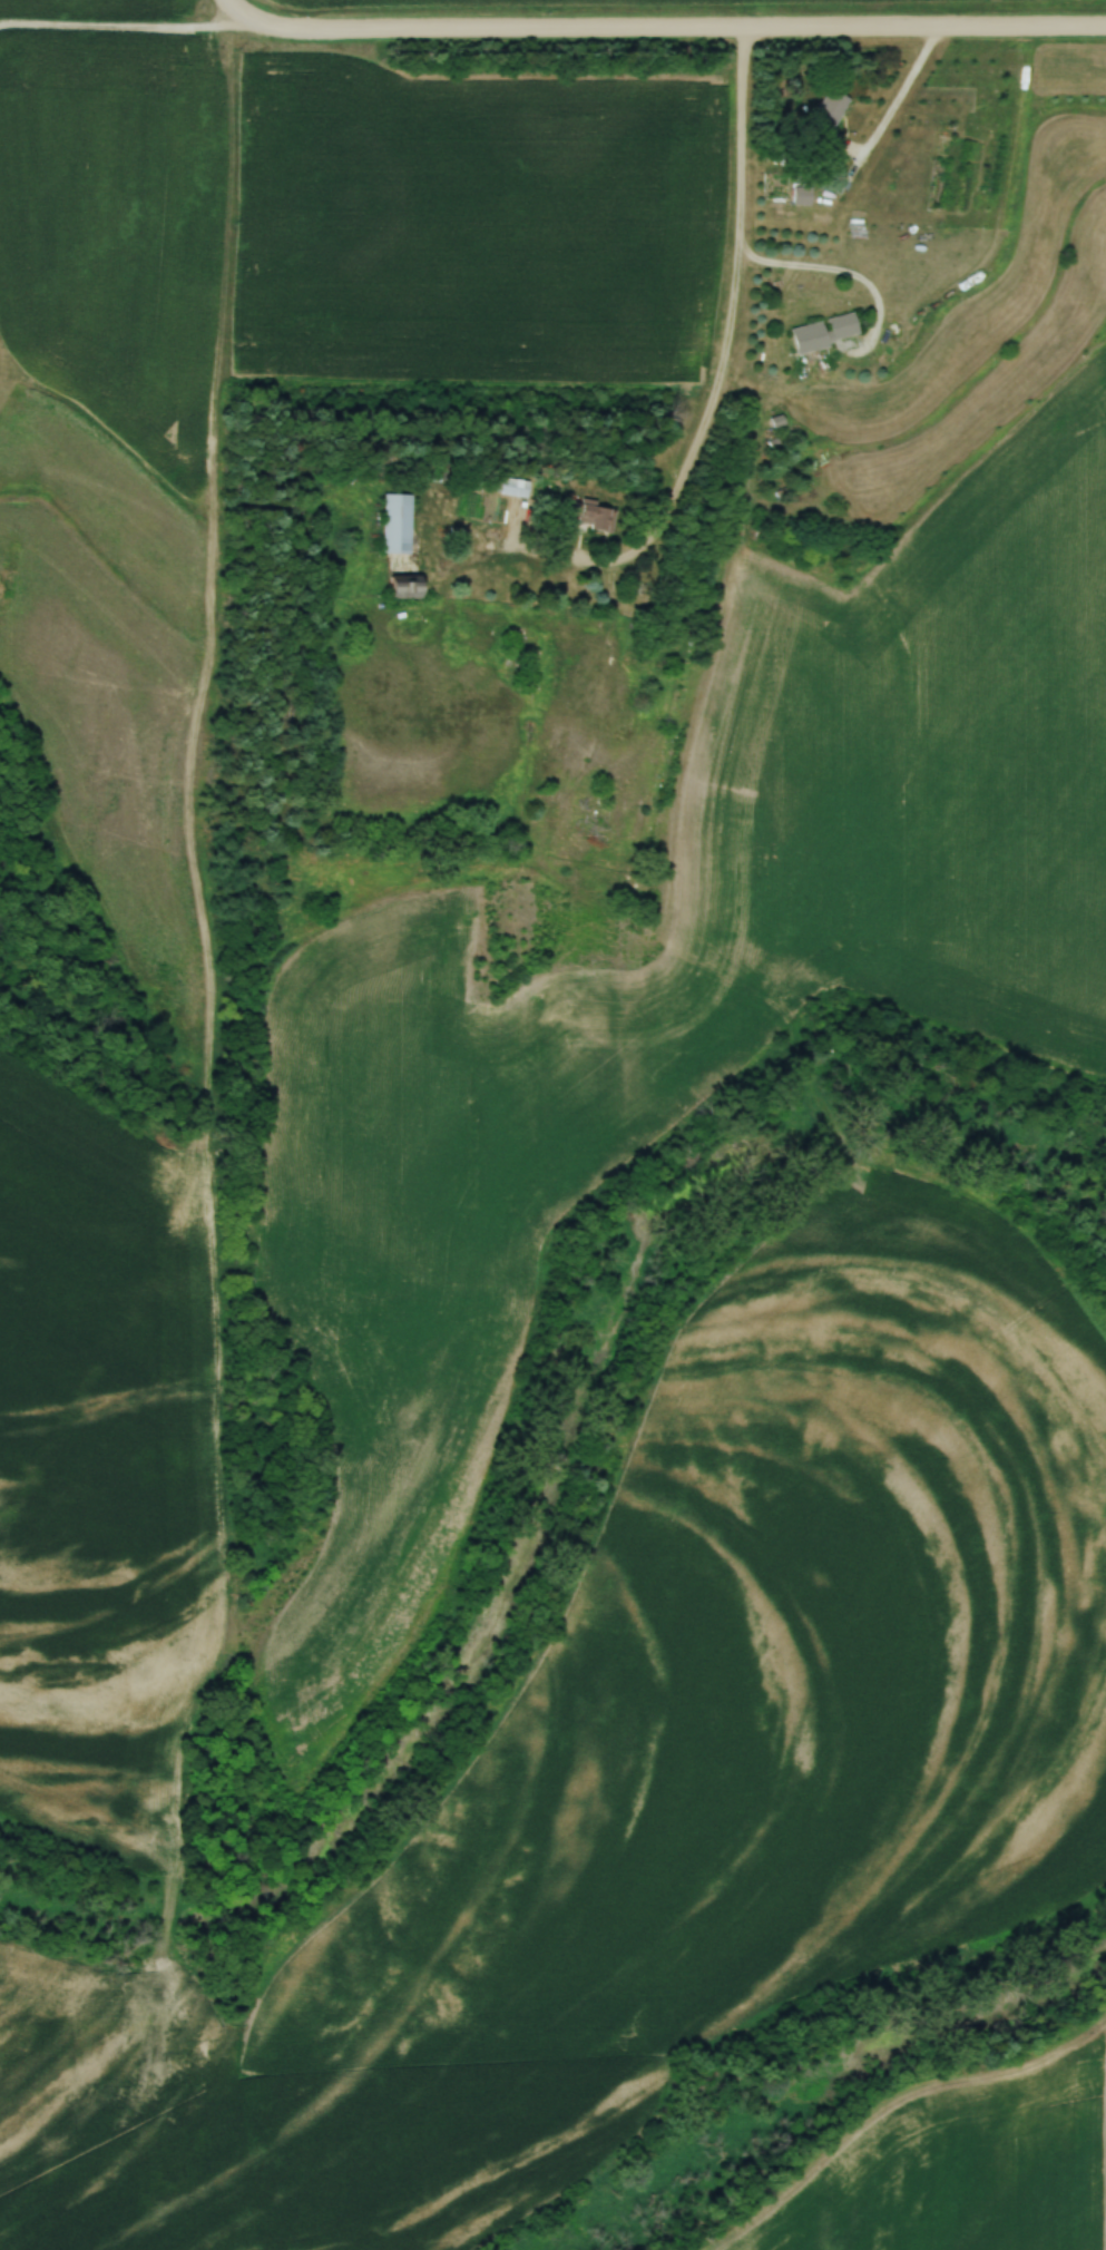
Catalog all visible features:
road: (225, 9)
road: (666, 30)
road: (116, 31)
building: (828, 113)
building: (801, 195)
building: (823, 332)
road: (704, 409)
building: (513, 487)
building: (593, 516)
building: (398, 524)

